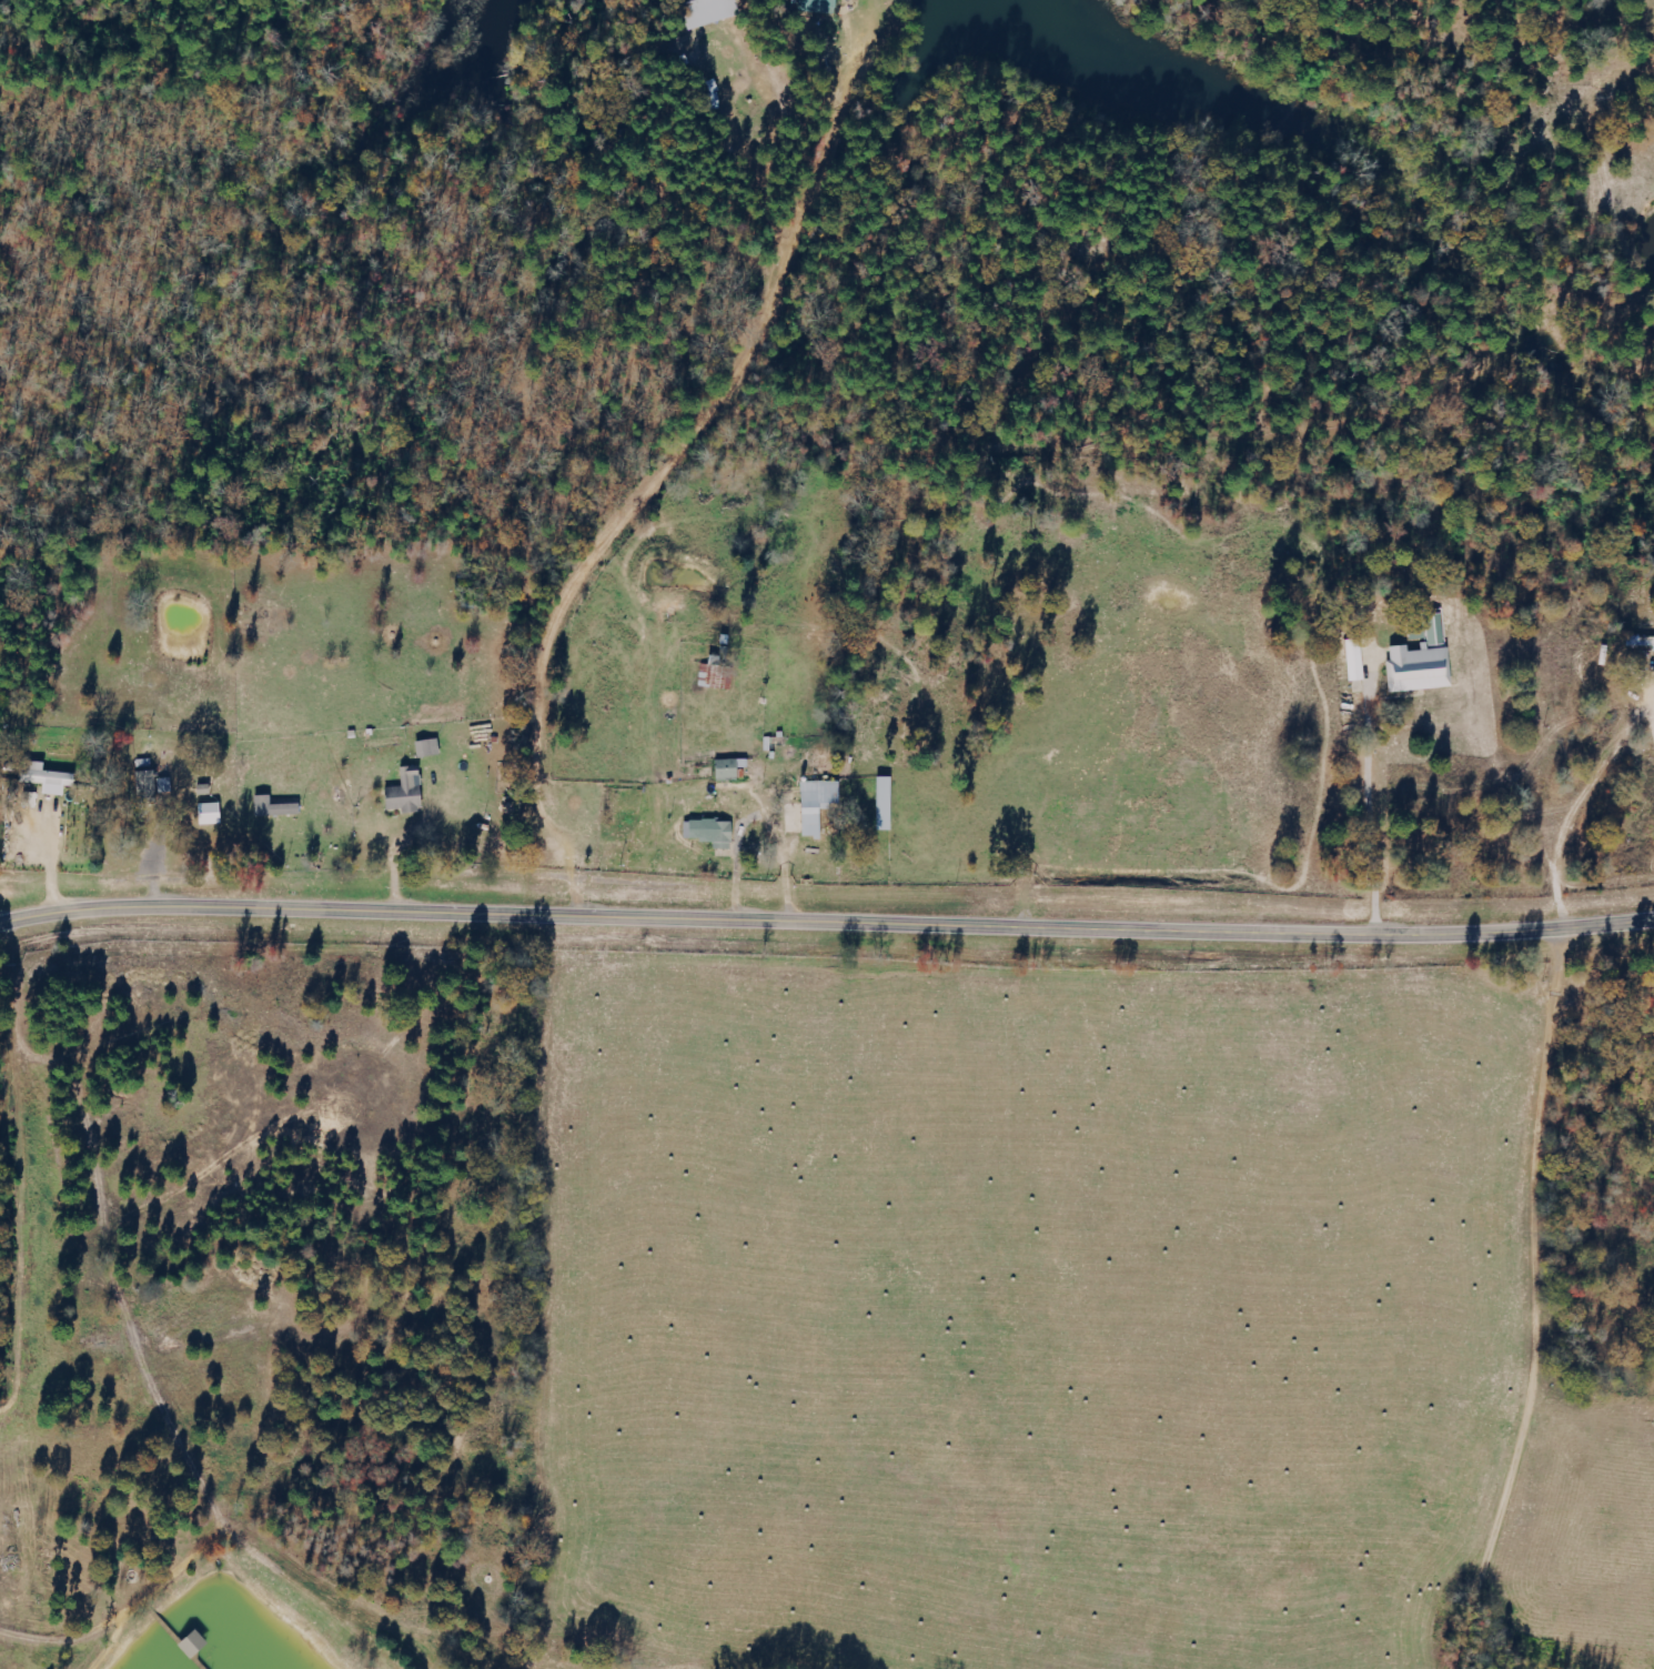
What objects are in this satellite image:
building: (824, 7)
building: (717, 11)
building: (1352, 663)
building: (1419, 663)
building: (432, 748)
building: (734, 768)
building: (52, 780)
building: (411, 793)
building: (821, 805)
building: (278, 808)
building: (214, 814)
building: (714, 833)
road: (826, 924)
road: (366, 1012)
road: (30, 1294)

